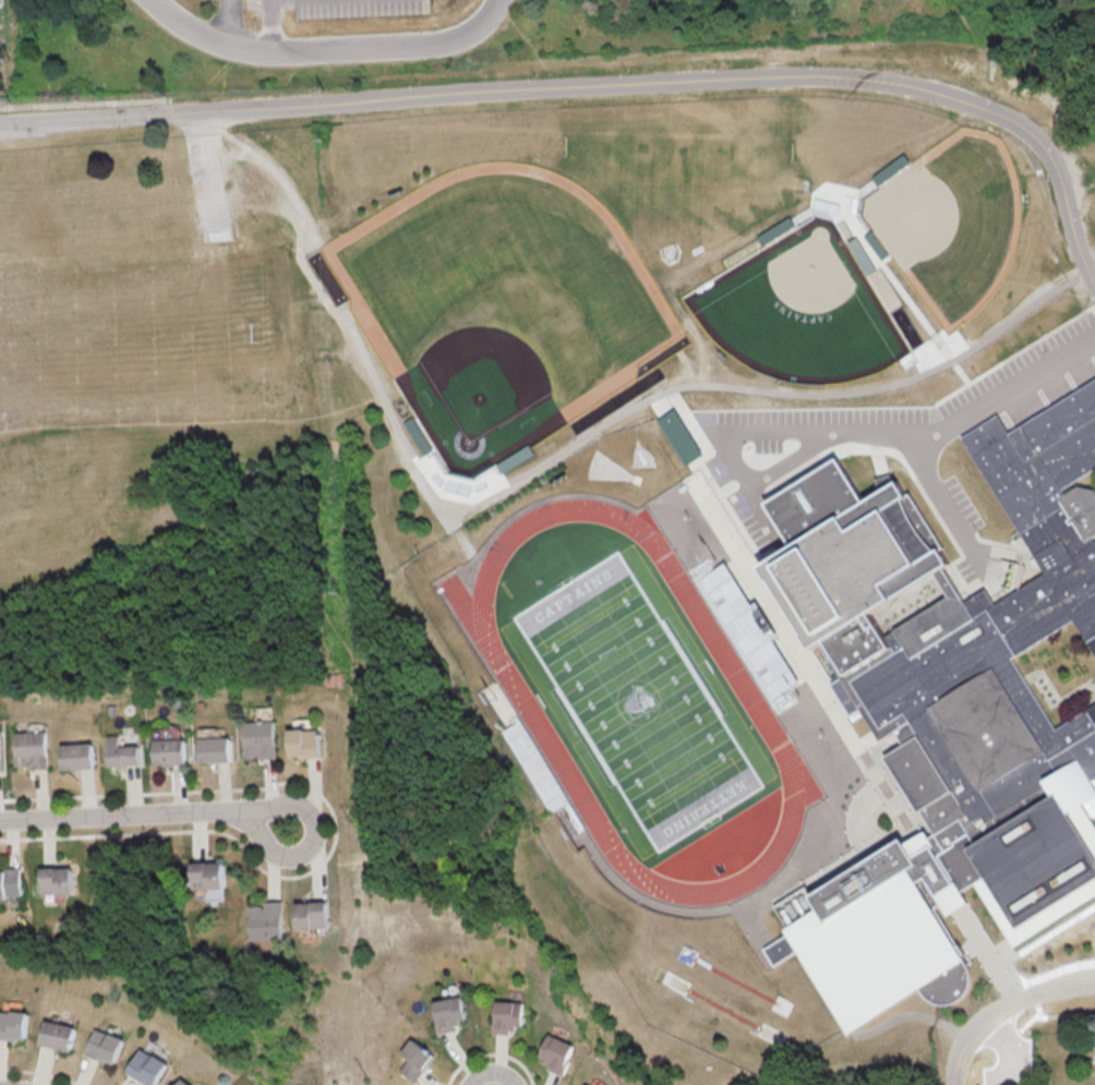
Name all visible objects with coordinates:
road: (222, 21)
road: (273, 25)
road: (326, 48)
road: (603, 83)
road: (91, 101)
park: (682, 160)
park: (959, 232)
road: (903, 302)
park: (806, 316)
park: (504, 326)
road: (349, 328)
park: (129, 343)
road: (768, 399)
parking lot: (932, 407)
building: (682, 443)
road: (922, 445)
building: (431, 448)
park: (646, 462)
road: (794, 467)
road: (735, 468)
building: (500, 470)
park: (609, 478)
road: (944, 514)
road: (766, 519)
parking lot: (759, 528)
building: (847, 558)
building: (748, 637)
road: (803, 665)
track: (520, 709)
park: (637, 709)
park: (638, 710)
building: (256, 738)
building: (302, 739)
building: (975, 745)
building: (31, 748)
building: (212, 749)
building: (166, 751)
building: (119, 752)
road: (881, 752)
building: (0, 756)
building: (75, 756)
building: (533, 774)
road: (1093, 797)
road: (146, 815)
building: (207, 879)
building: (56, 880)
building: (10, 882)
building: (309, 915)
road: (739, 915)
building: (263, 920)
road: (1043, 937)
track: (734, 988)
park: (733, 989)
road: (1001, 989)
building: (437, 1013)
road: (1008, 1014)
building: (500, 1015)
park: (720, 1016)
track: (722, 1017)
building: (12, 1024)
road: (903, 1027)
building: (53, 1035)
building: (99, 1046)
building: (549, 1053)
building: (404, 1060)
building: (142, 1066)
road: (490, 1071)
building: (177, 1082)
building: (580, 1084)

